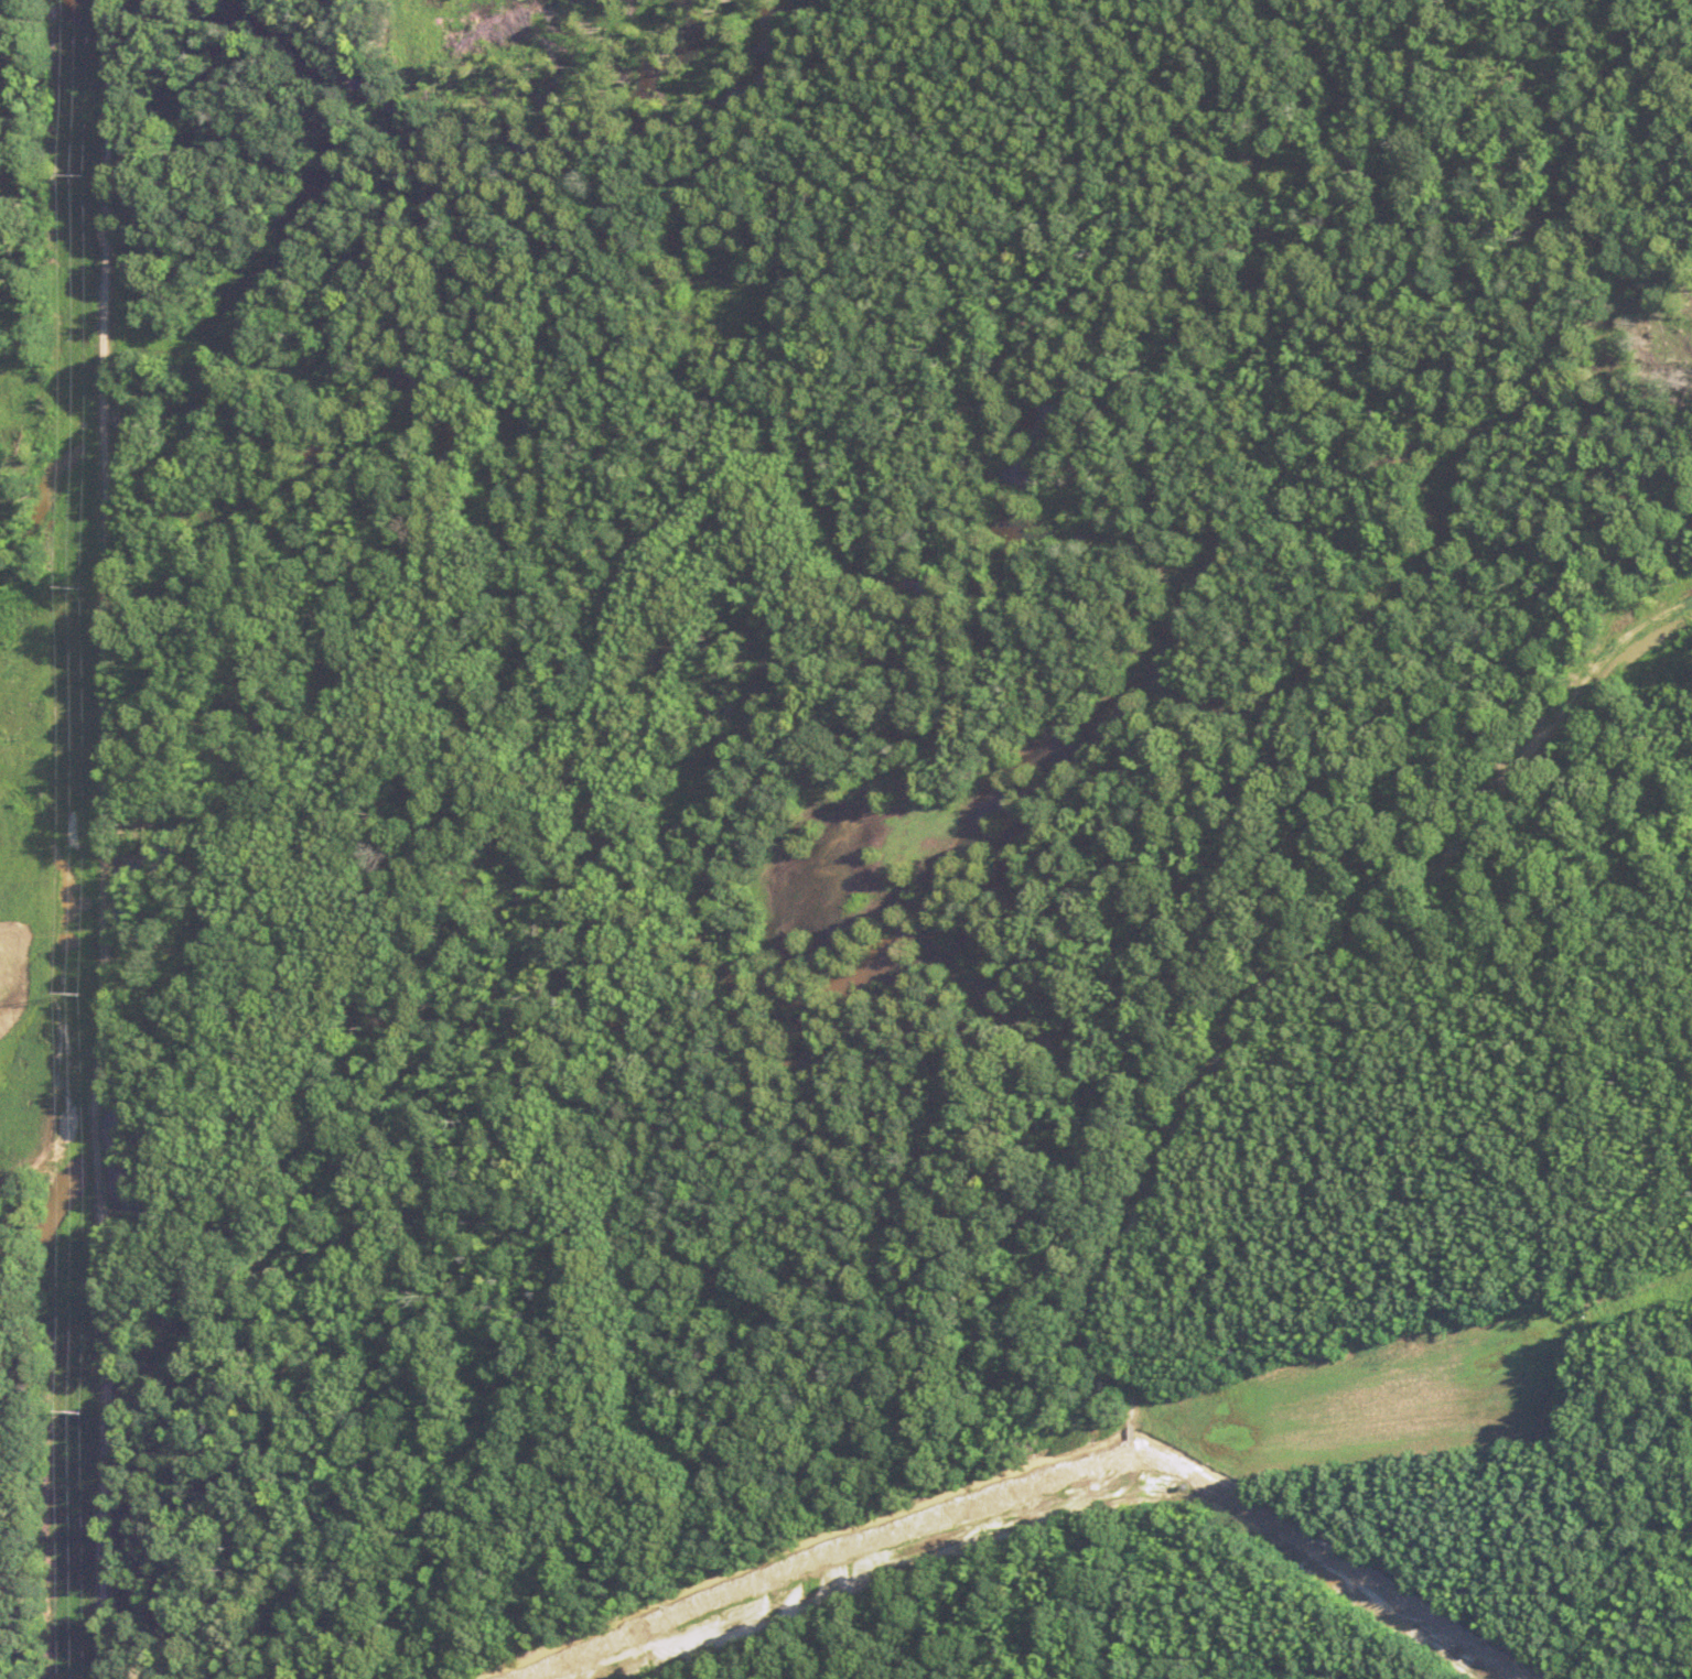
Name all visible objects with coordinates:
power tower: (84, 174)
building: (115, 416)
power tower: (79, 585)
power tower: (77, 992)
power tower: (79, 1408)

